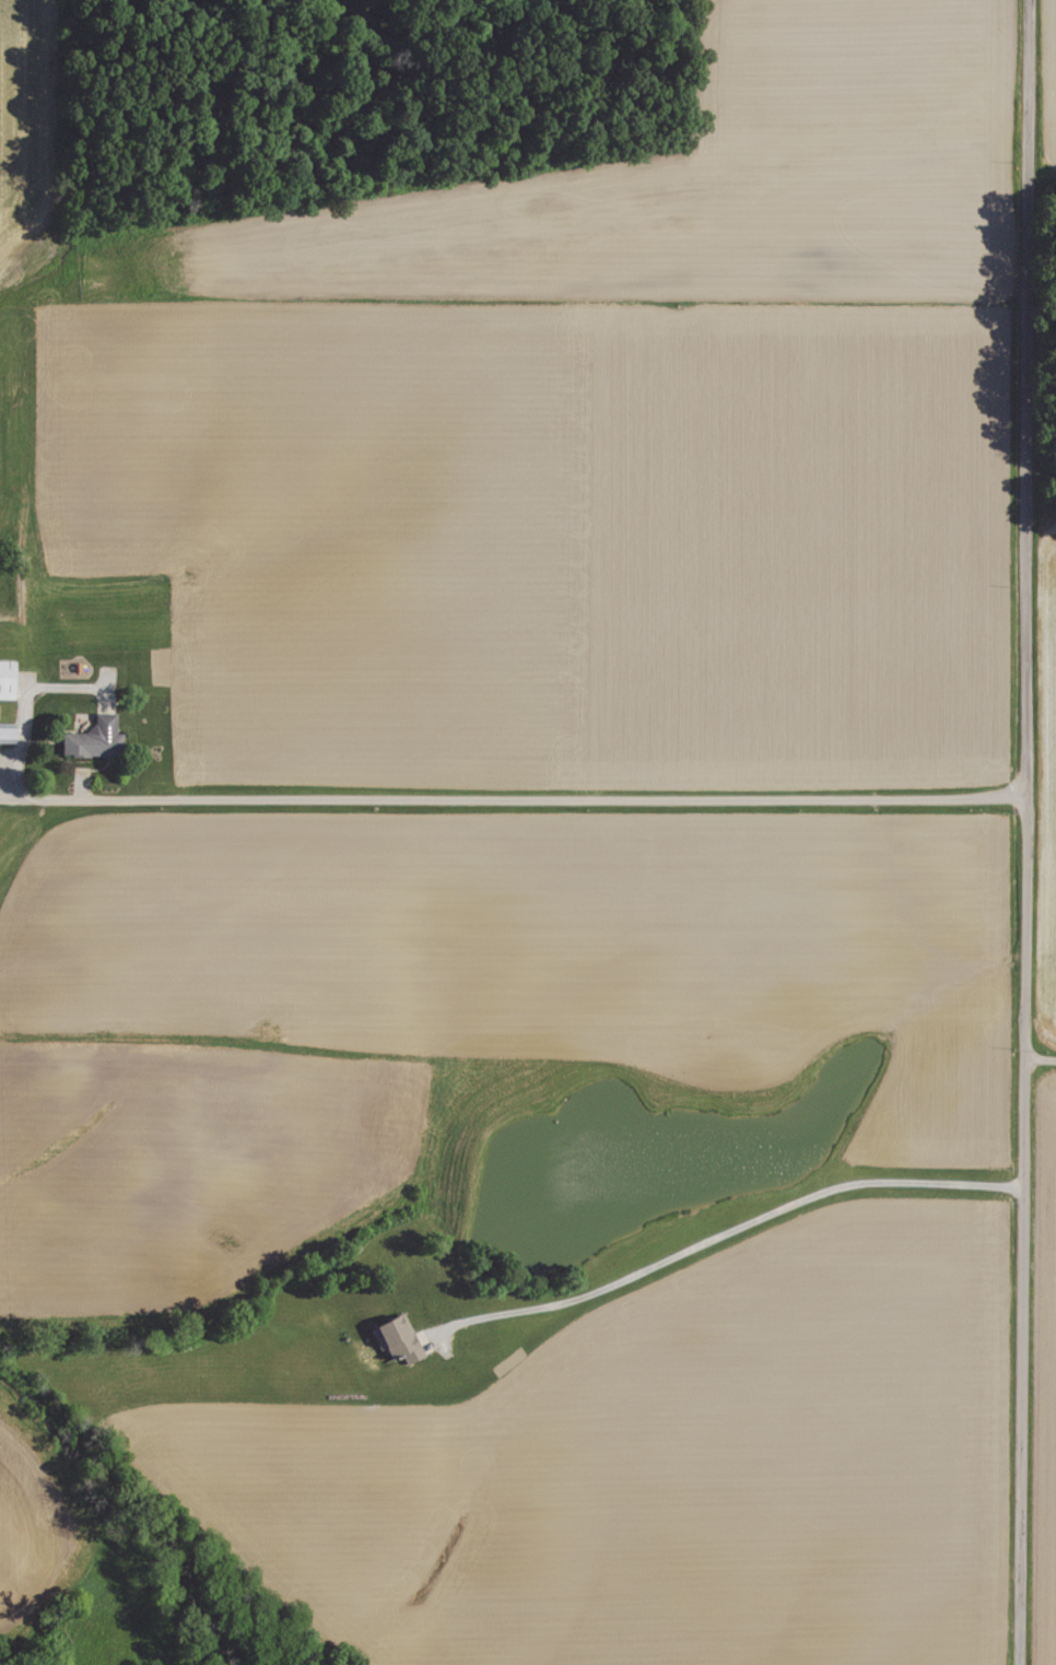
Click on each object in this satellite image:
building: (3, 732)
building: (92, 737)
road: (528, 796)
road: (1024, 832)
road: (1039, 1058)
road: (721, 1235)
building: (395, 1338)

